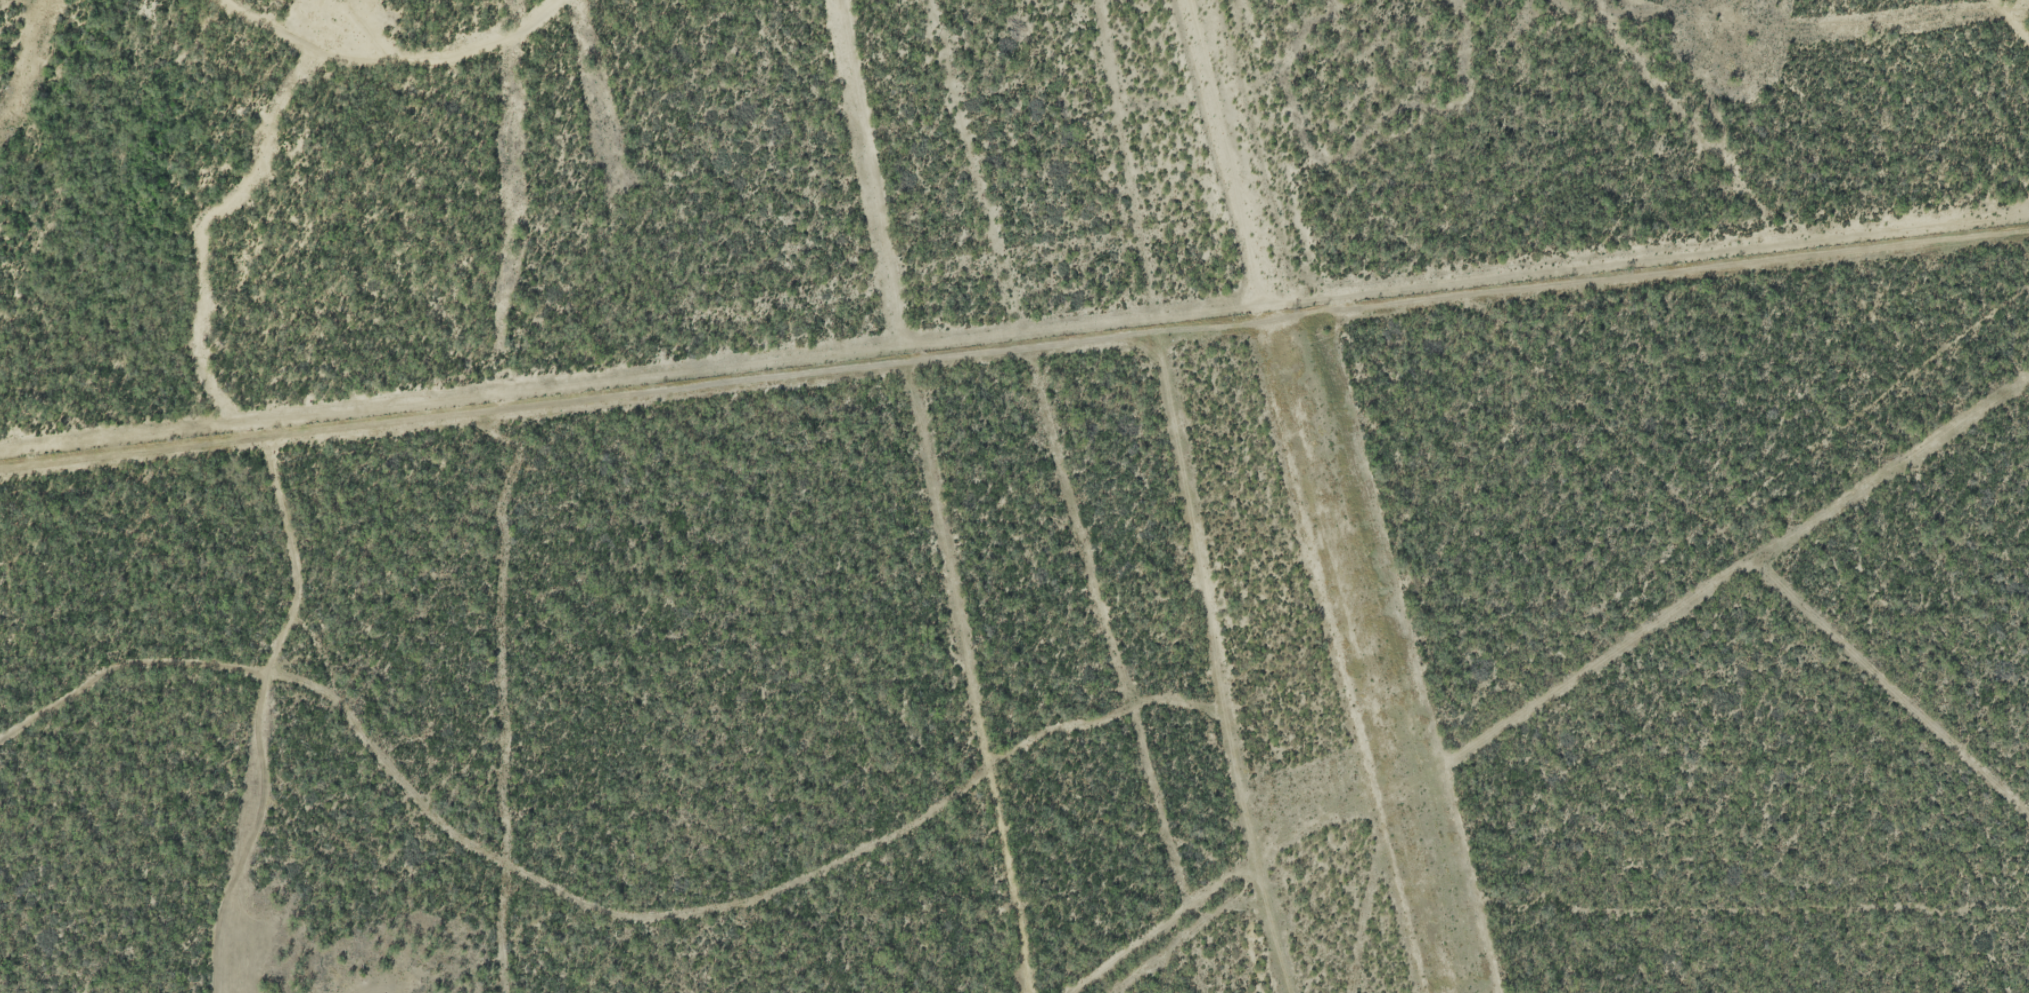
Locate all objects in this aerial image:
road: (860, 157)
road: (1153, 933)

